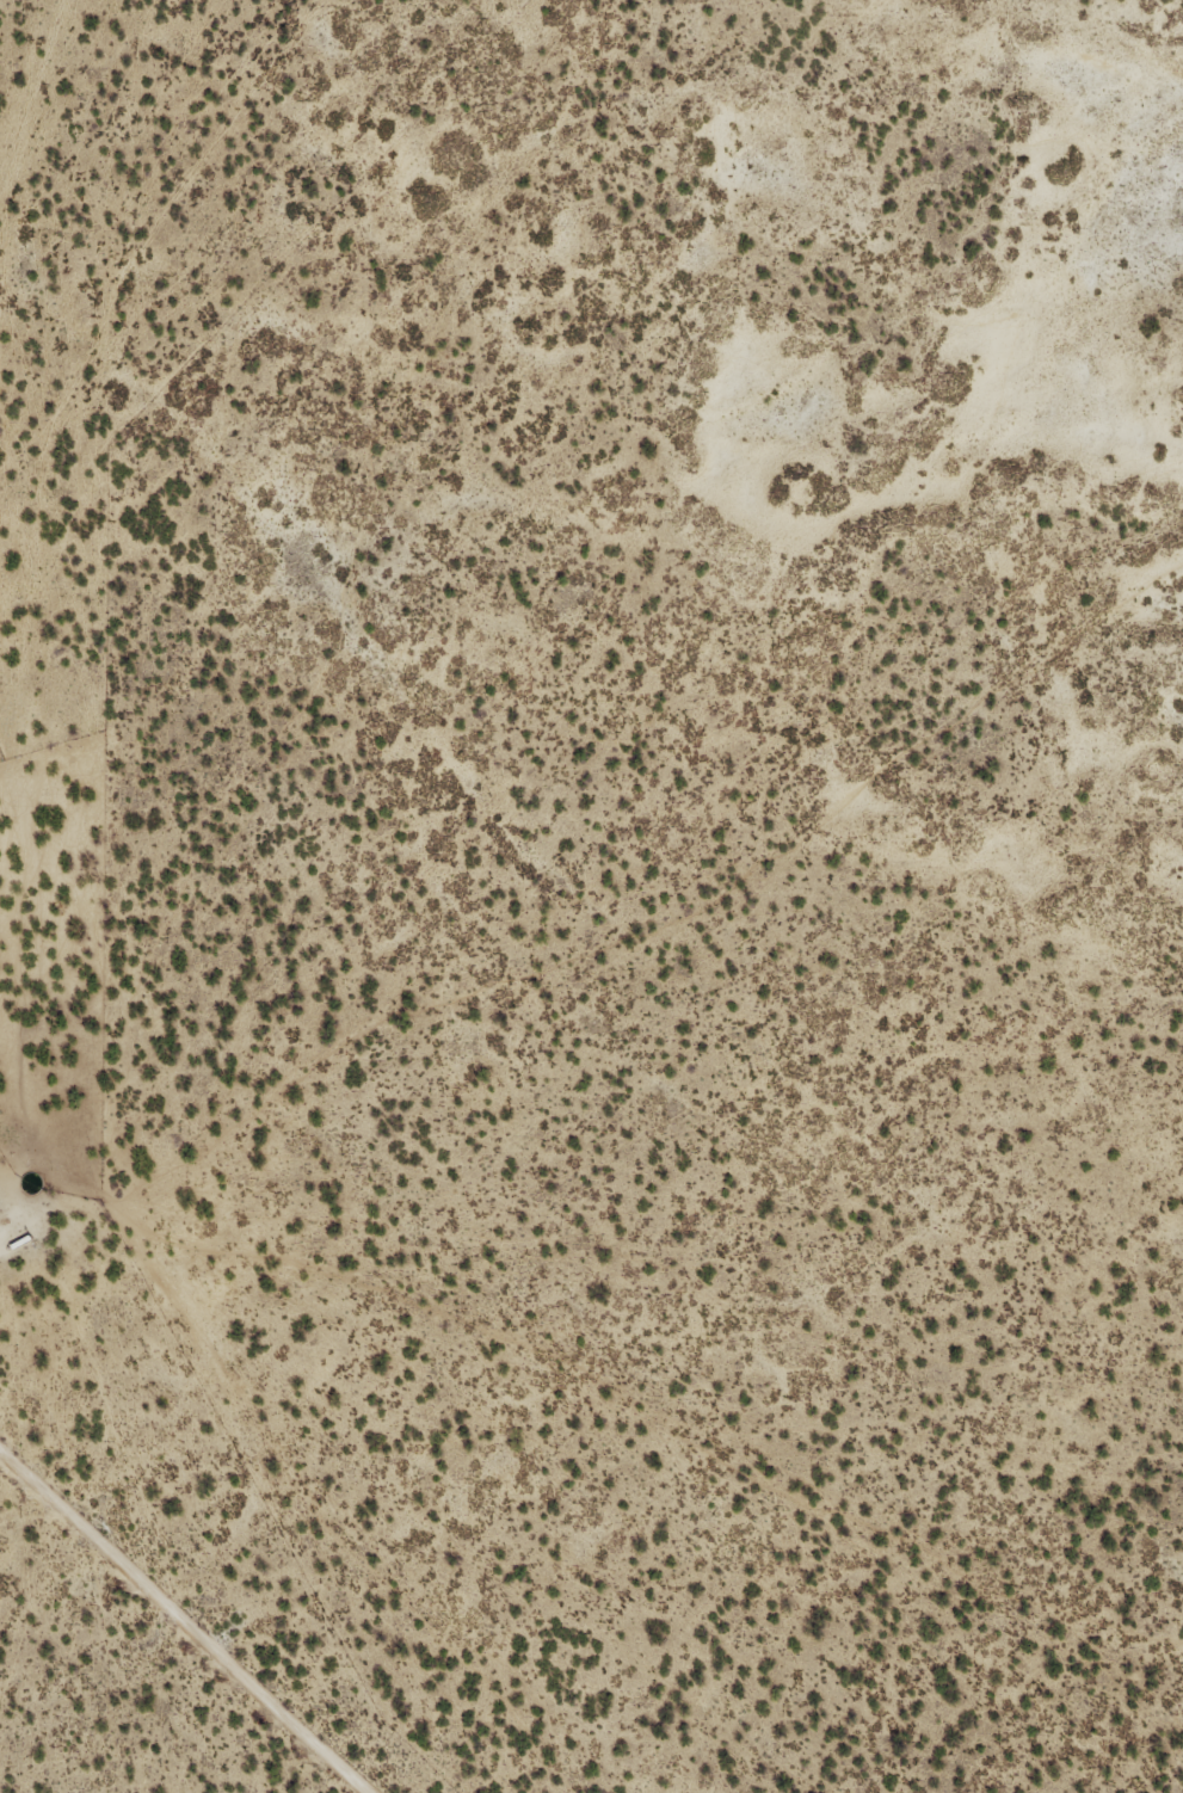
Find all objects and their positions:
road: (184, 1621)

